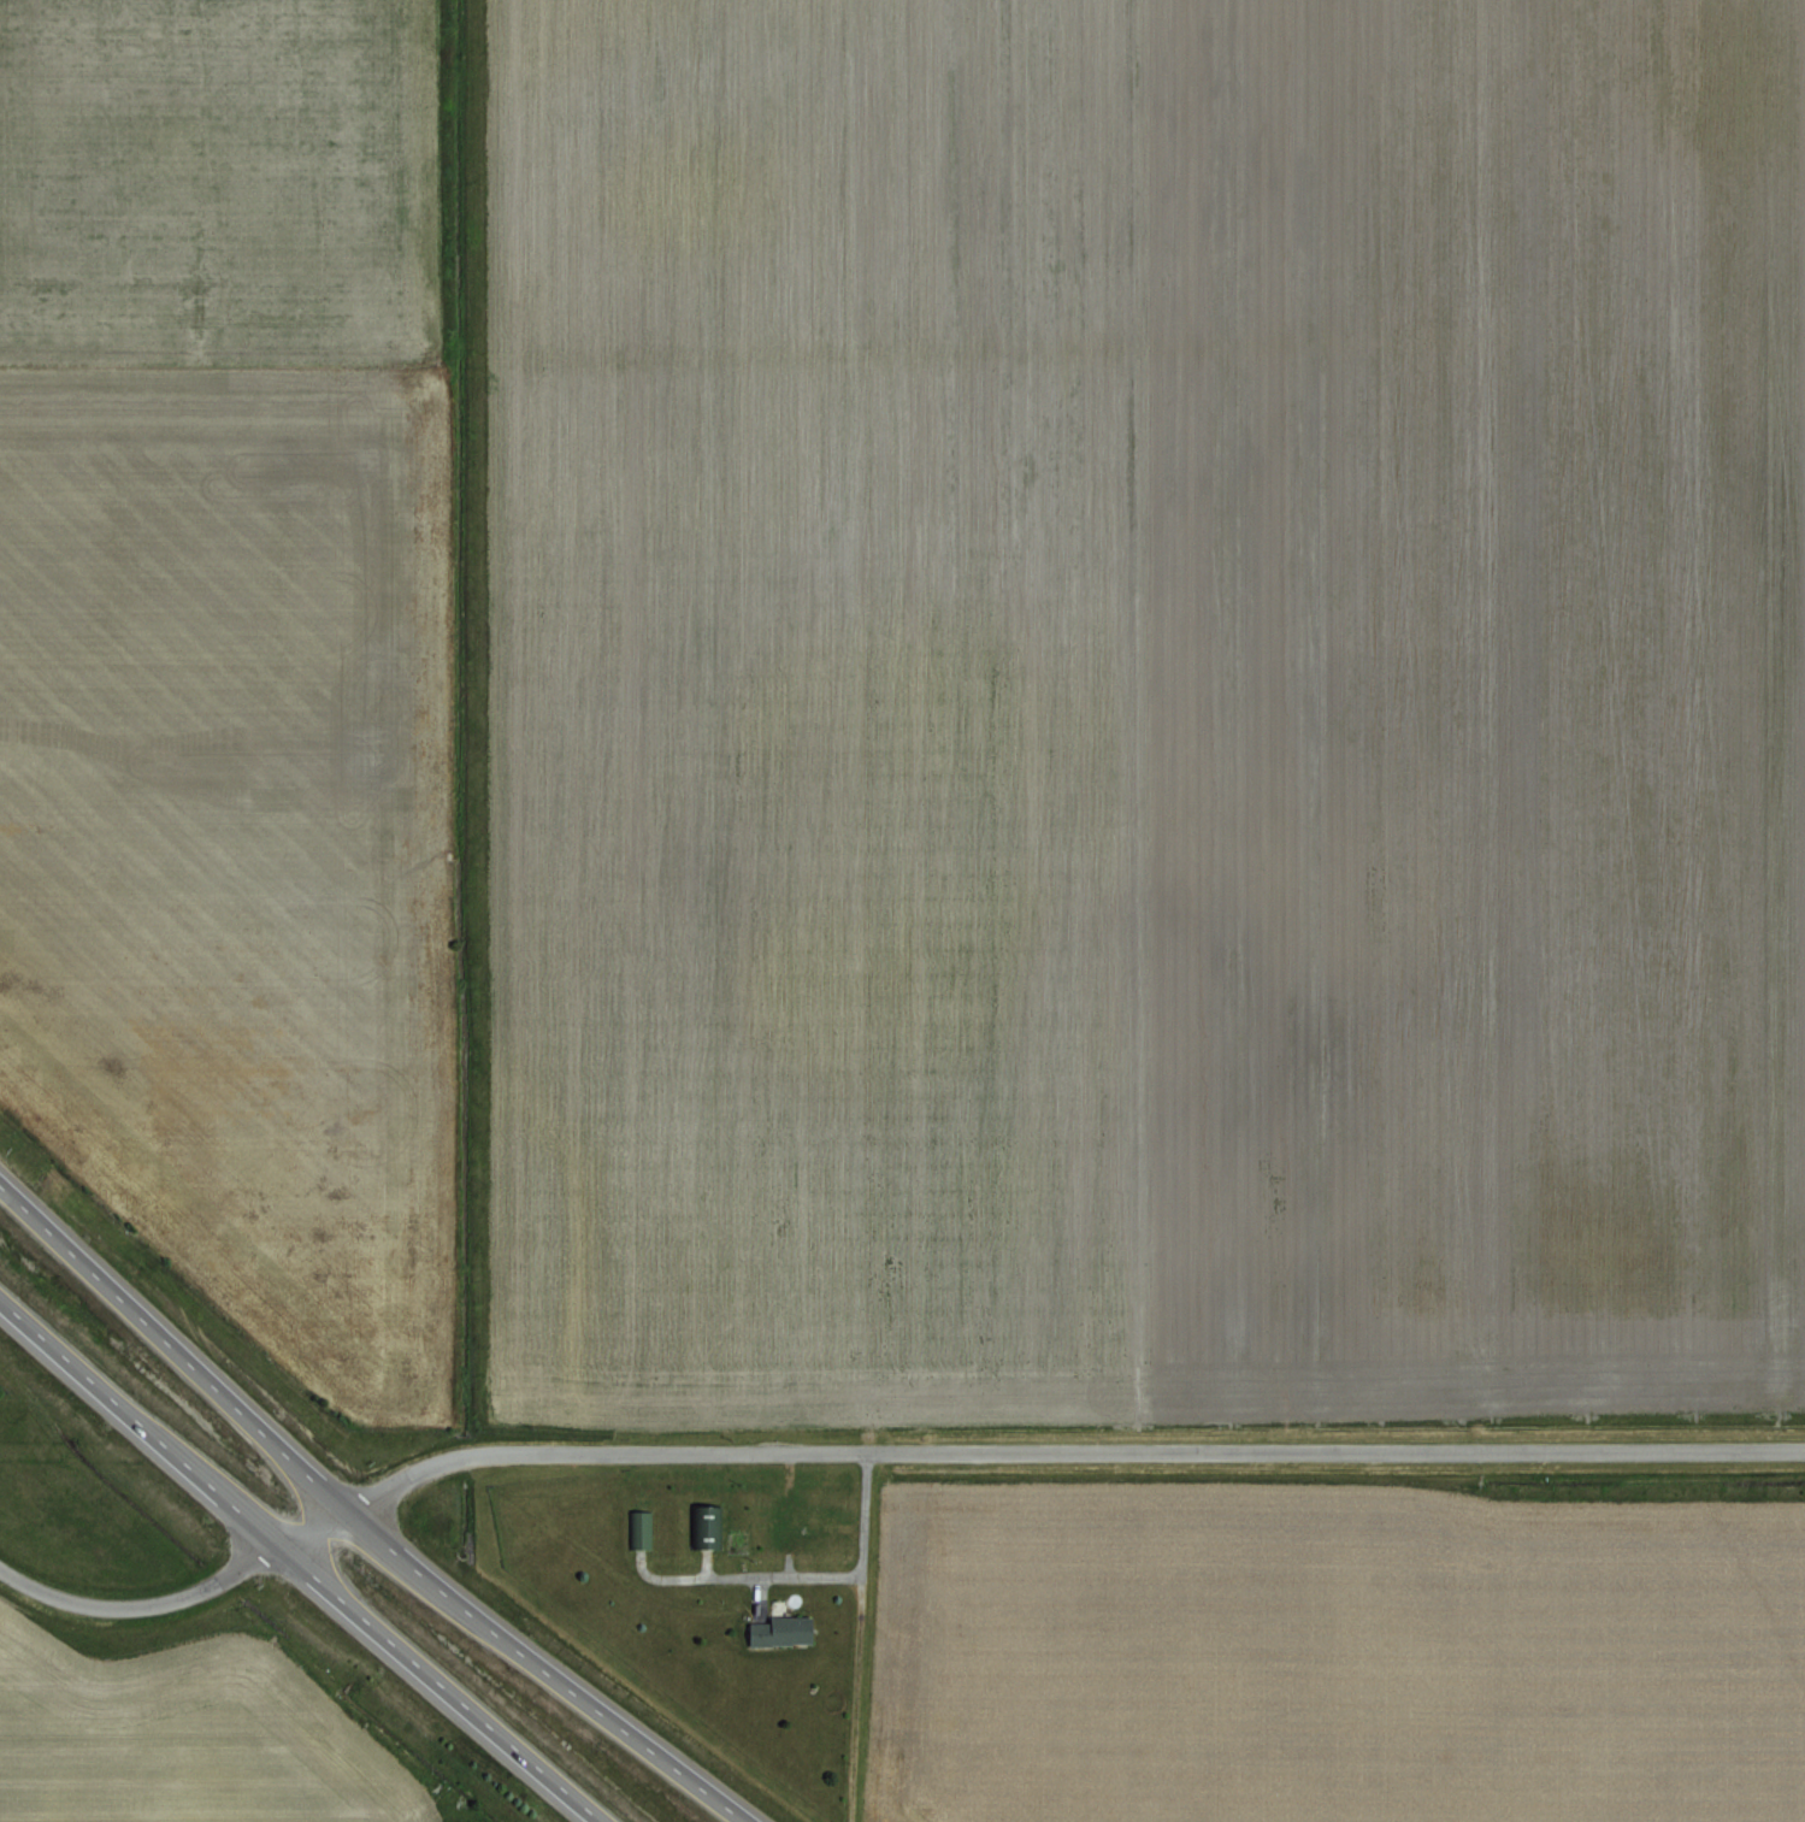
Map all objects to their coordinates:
park: (22, 1149)
road: (880, 1449)
road: (362, 1517)
road: (295, 1565)
road: (741, 1575)
road: (853, 1635)

